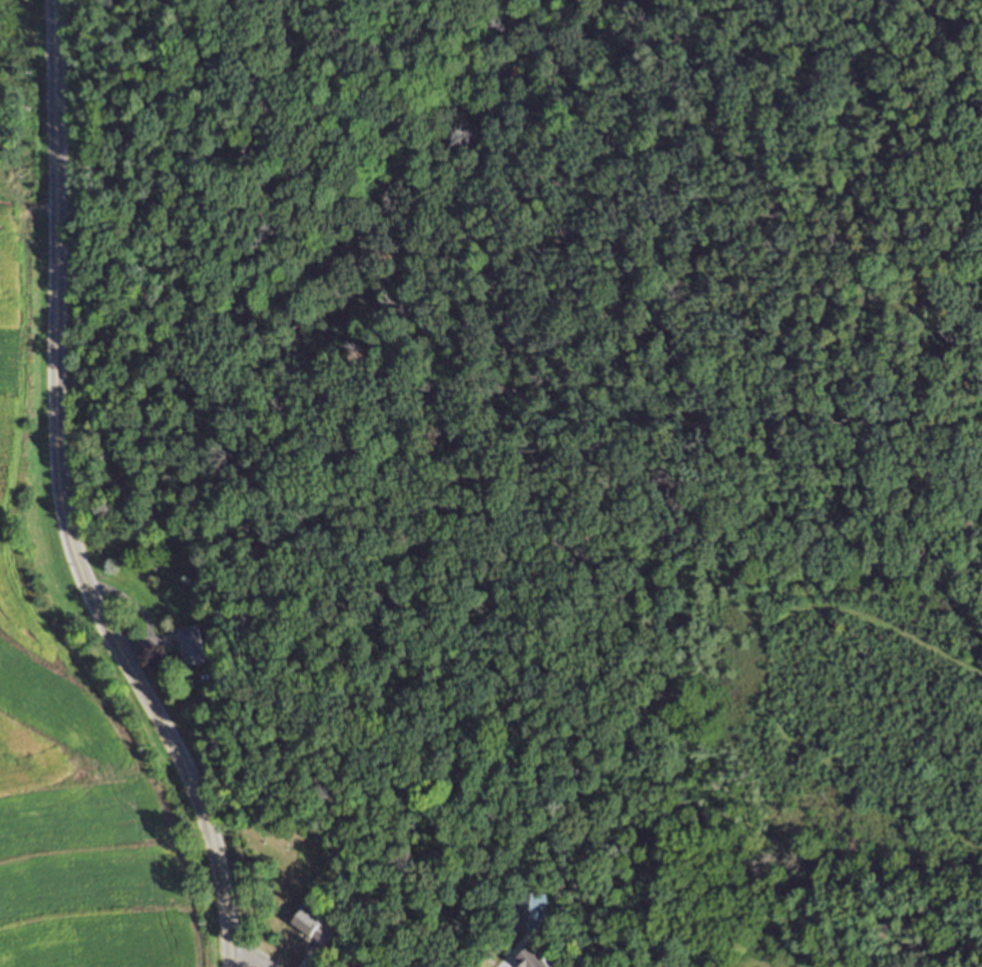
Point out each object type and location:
road: (62, 500)
building: (194, 644)
building: (533, 910)
building: (315, 925)
road: (250, 957)
building: (535, 958)

